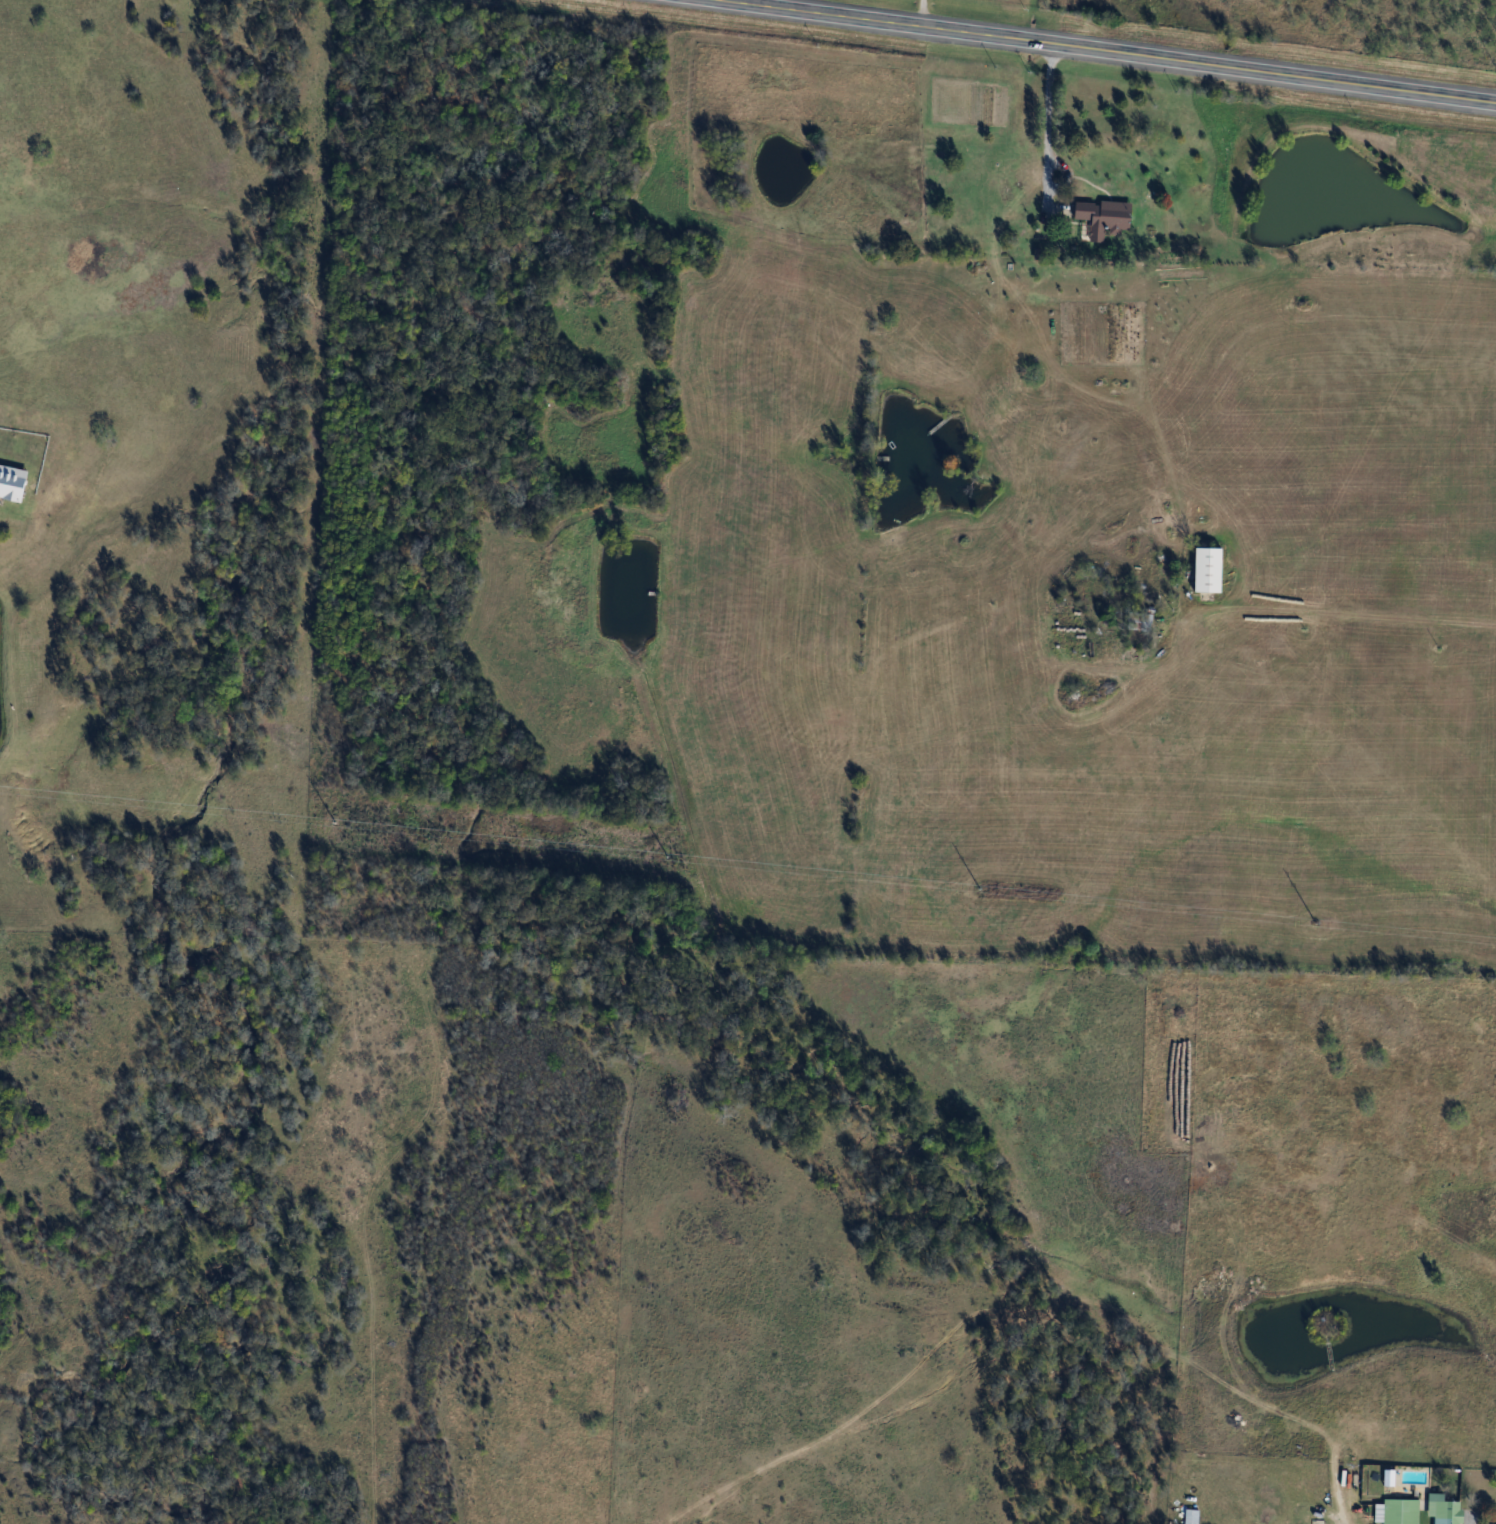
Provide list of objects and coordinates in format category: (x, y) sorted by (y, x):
road: (1111, 51)
road: (1046, 115)
building: (1106, 216)
building: (1209, 568)
power tower: (333, 823)
power tower: (662, 855)
power tower: (976, 889)
power tower: (1314, 923)
building: (1184, 1398)
building: (1398, 1511)
building: (1447, 1512)
road: (1338, 1519)

